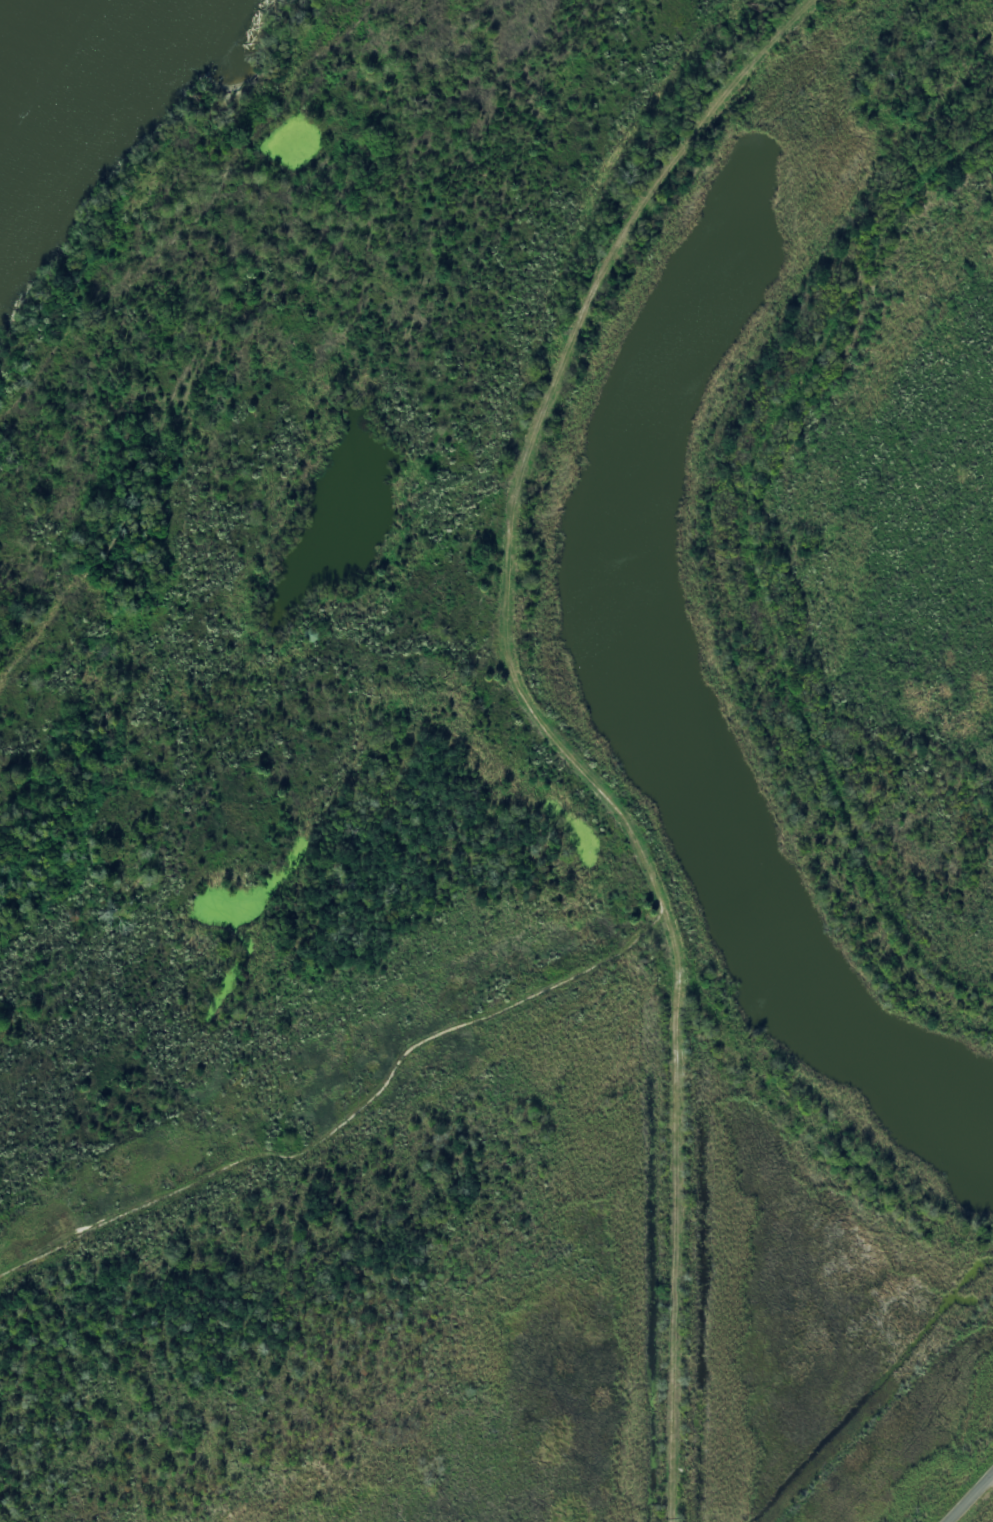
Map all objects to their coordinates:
road: (972, 1500)
road: (674, 1521)

